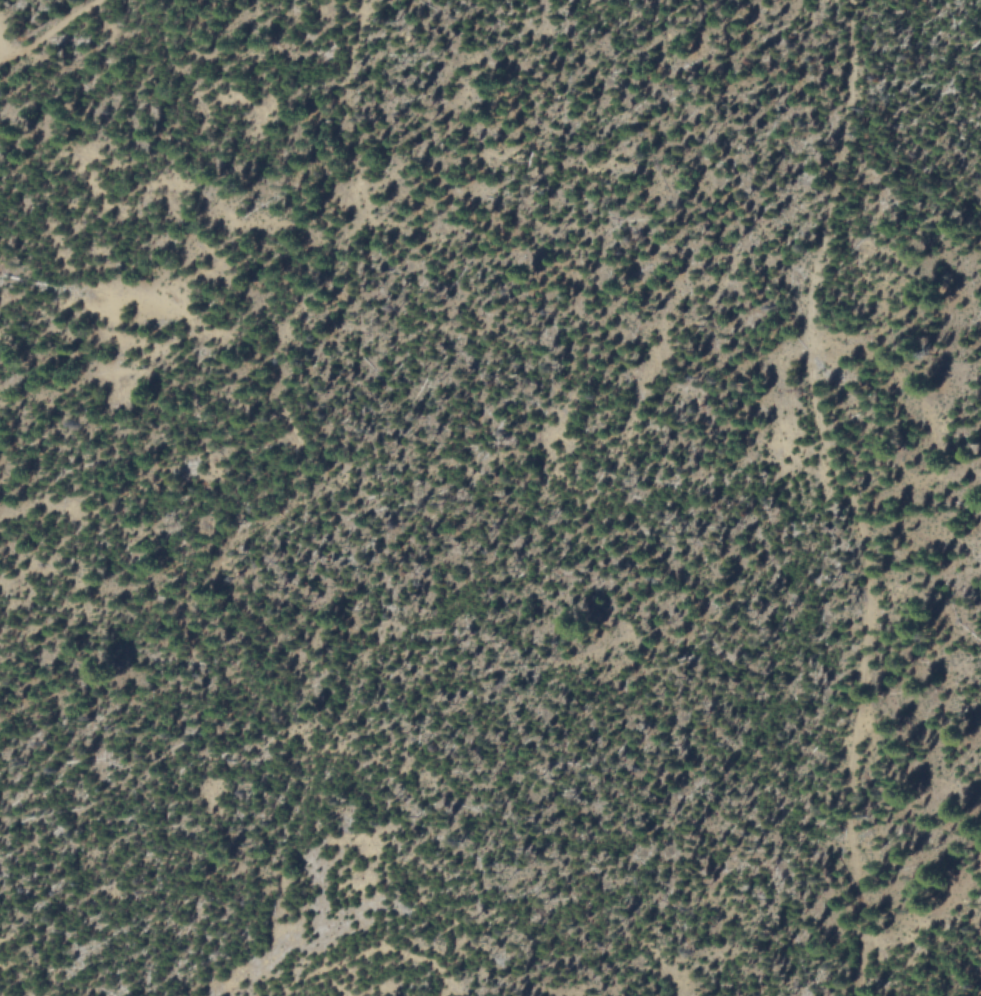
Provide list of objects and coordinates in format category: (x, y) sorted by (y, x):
road: (44, 36)
road: (754, 500)

